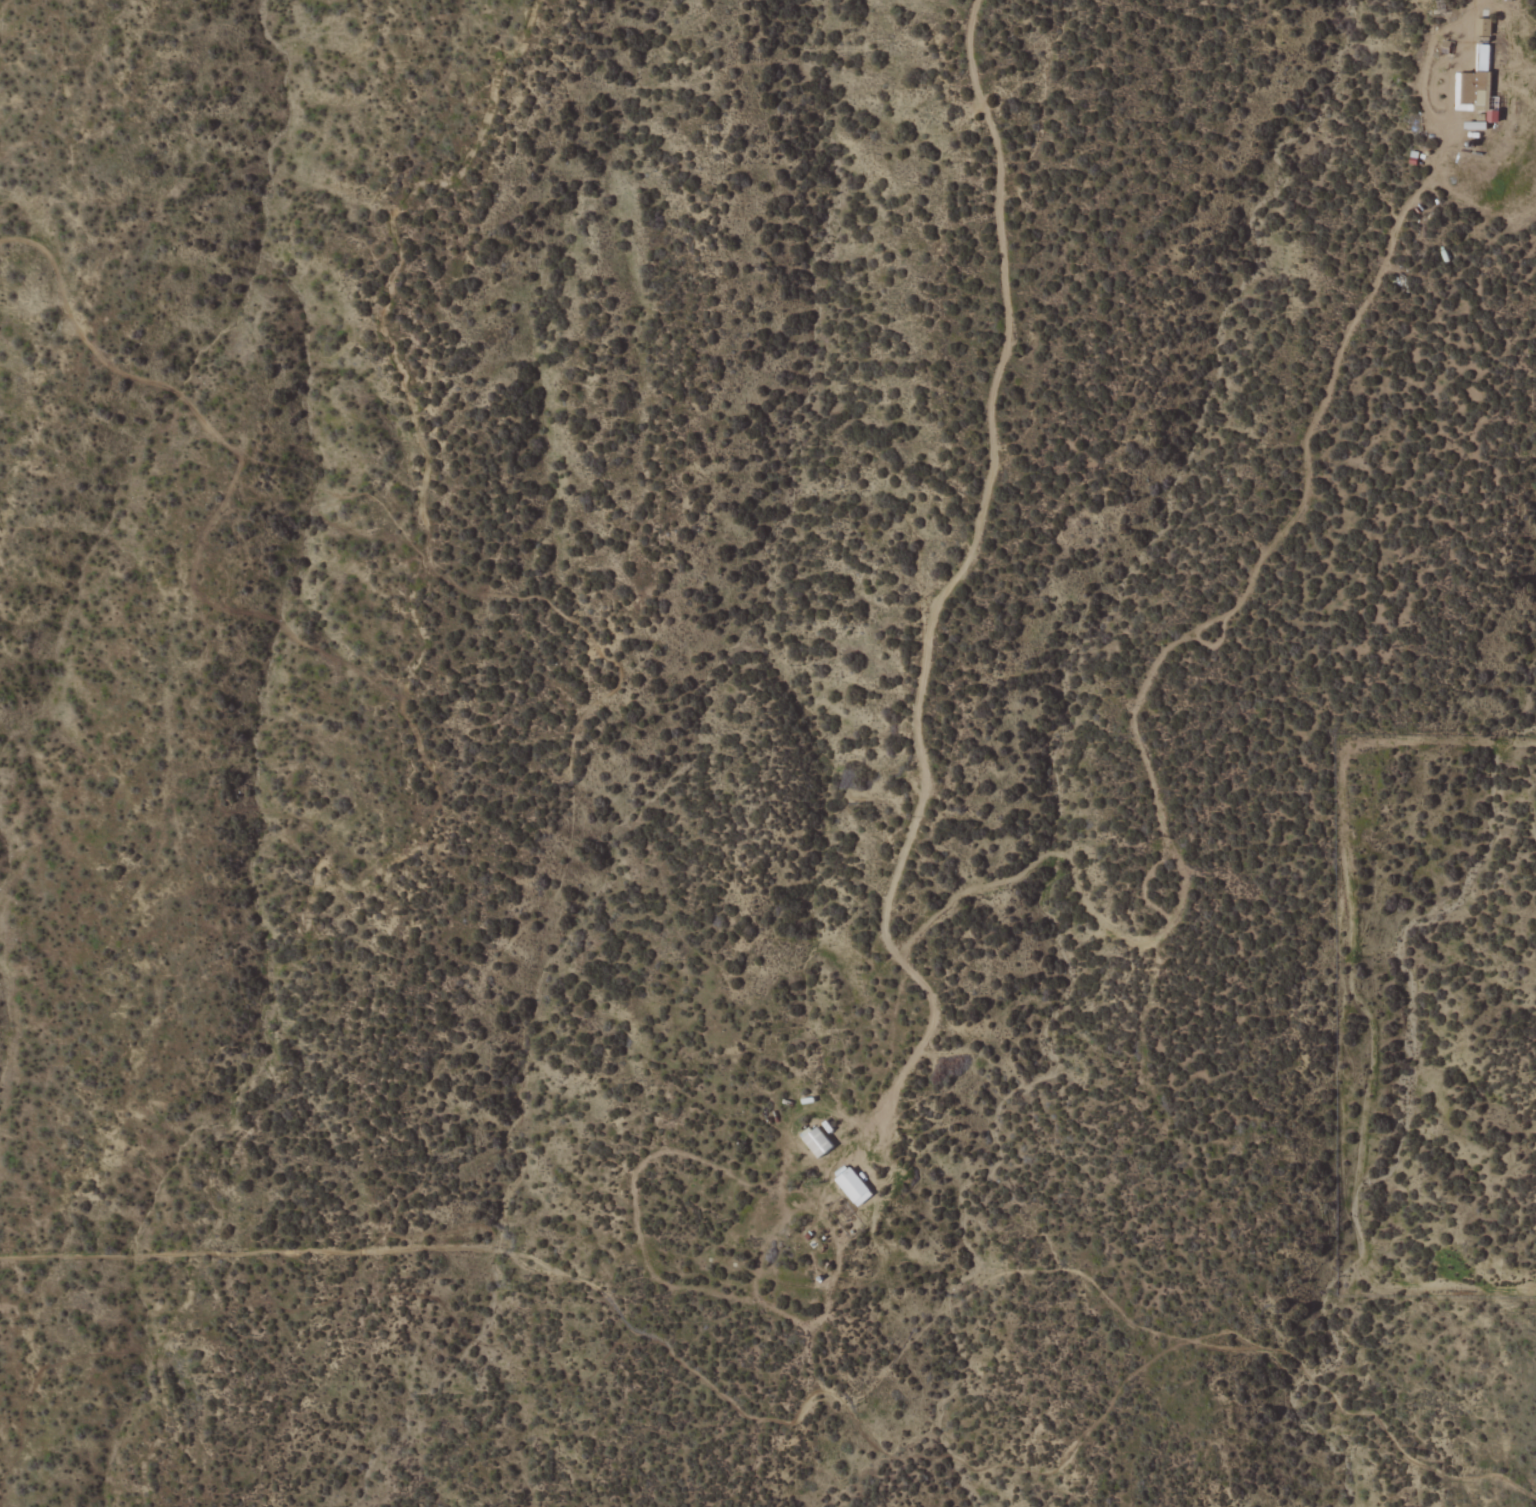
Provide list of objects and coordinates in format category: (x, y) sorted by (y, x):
road: (987, 486)
road: (1213, 614)
road: (912, 1057)
building: (852, 1186)

